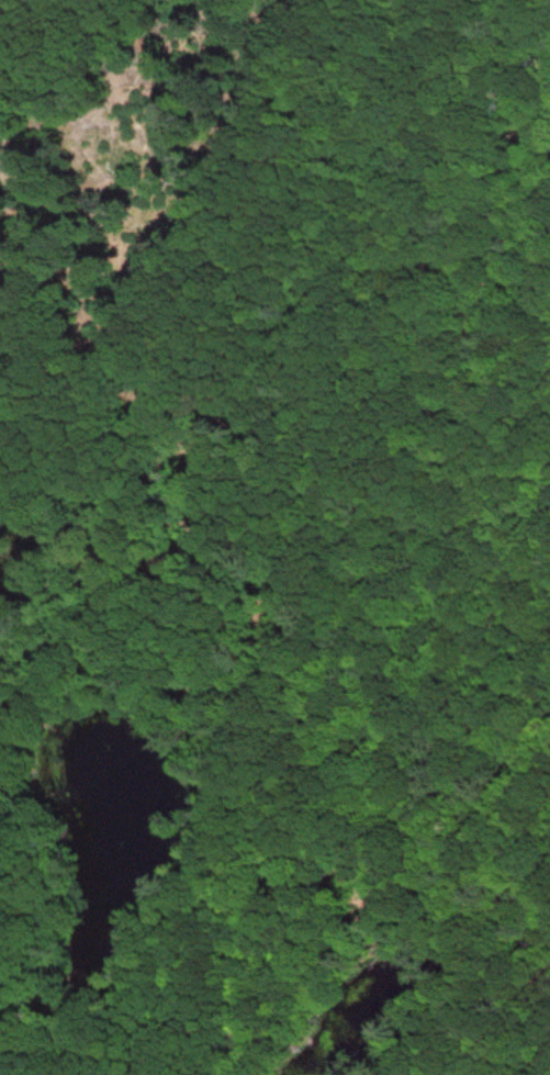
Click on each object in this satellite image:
park: (274, 537)

